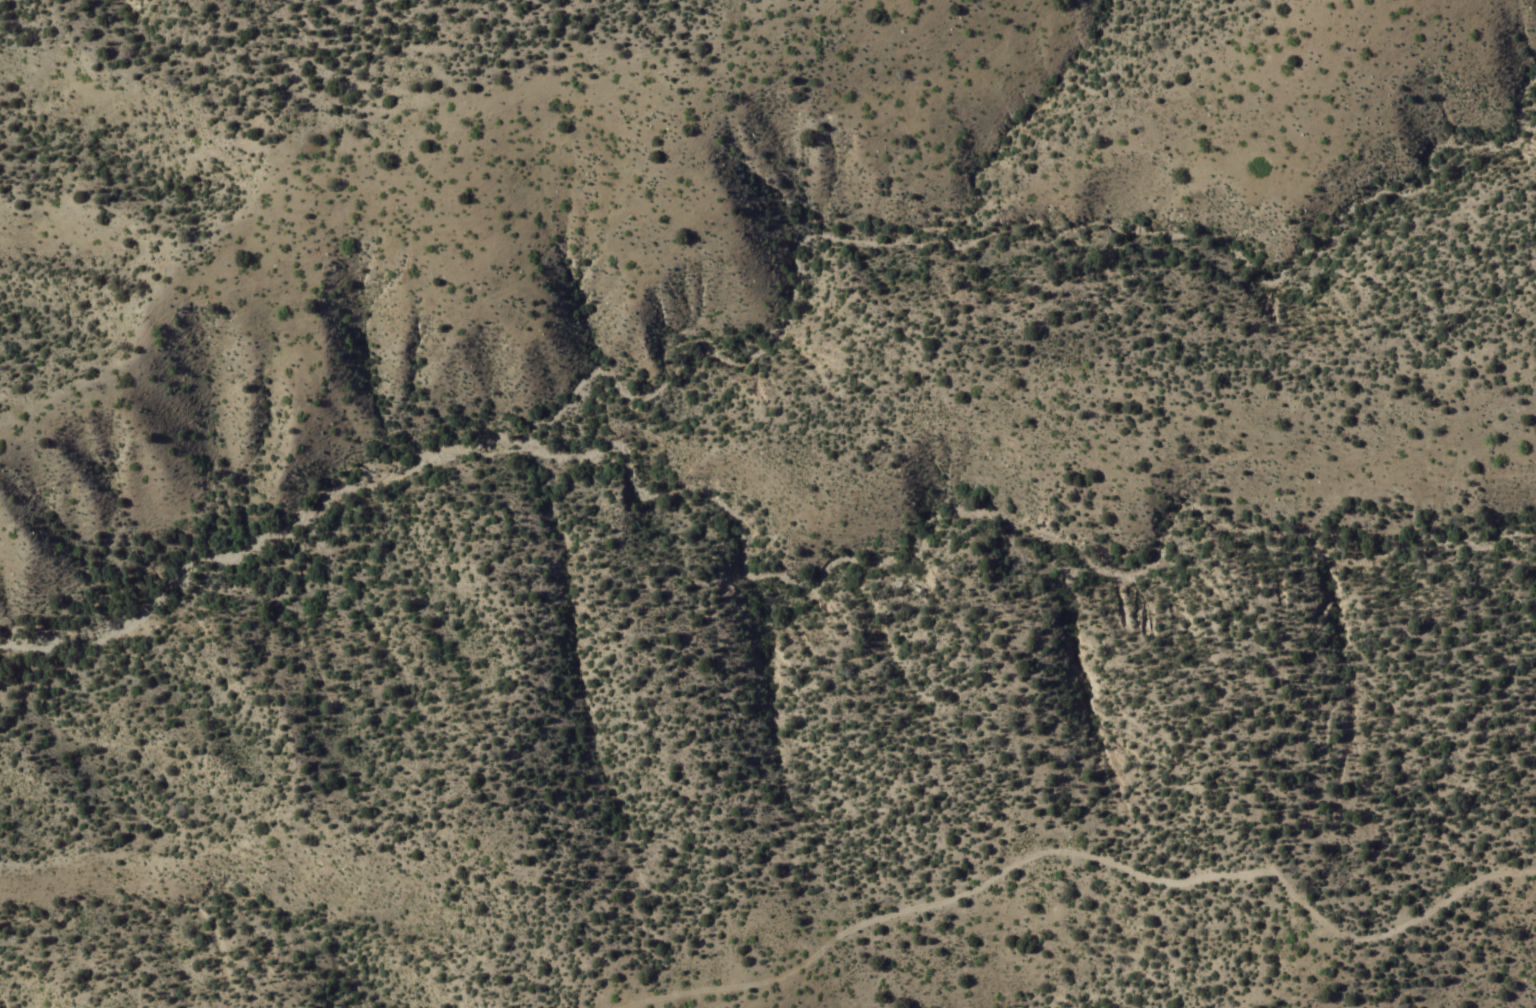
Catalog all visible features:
road: (1061, 855)
road: (19, 1001)

